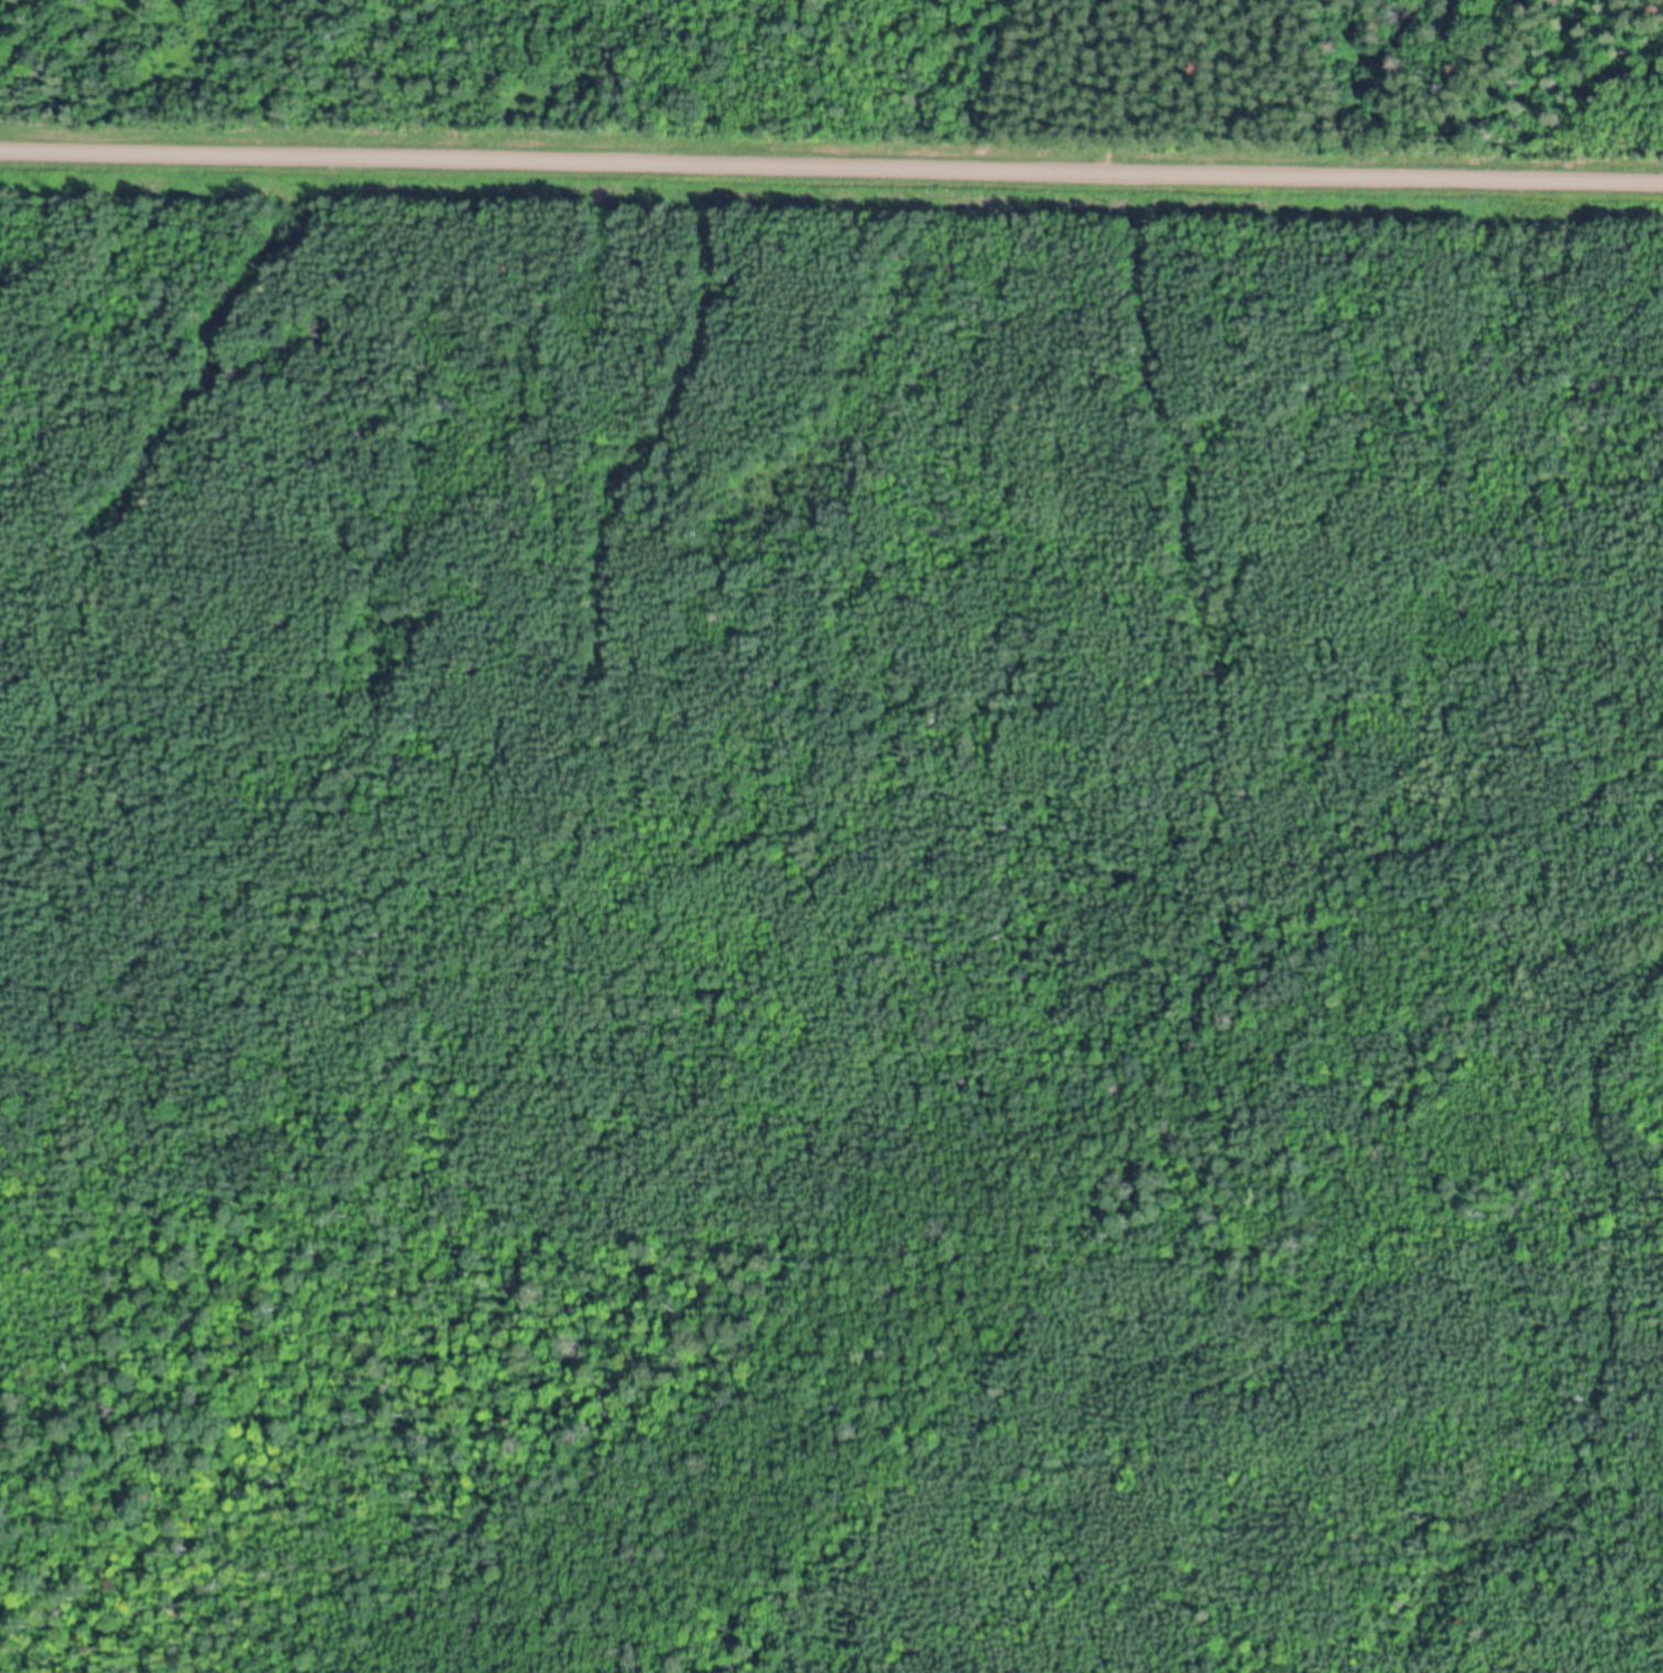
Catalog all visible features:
road: (831, 169)

